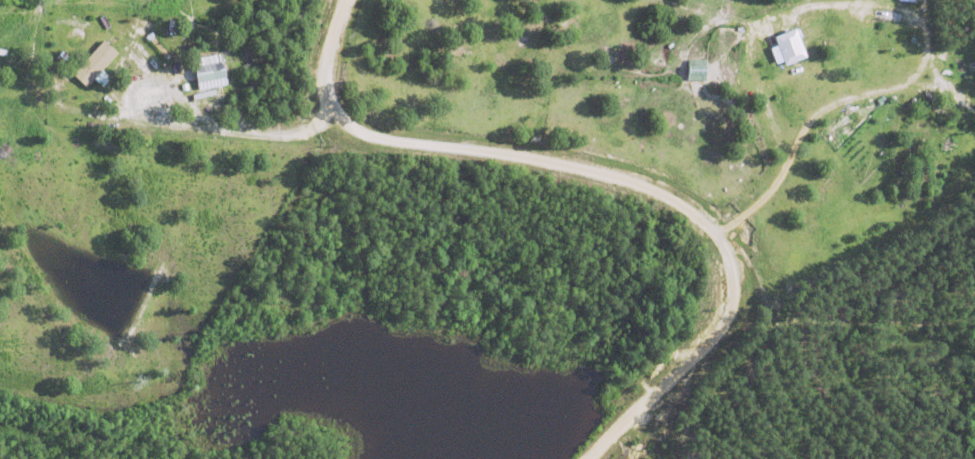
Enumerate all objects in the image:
building: (791, 46)
building: (94, 62)
road: (606, 176)

